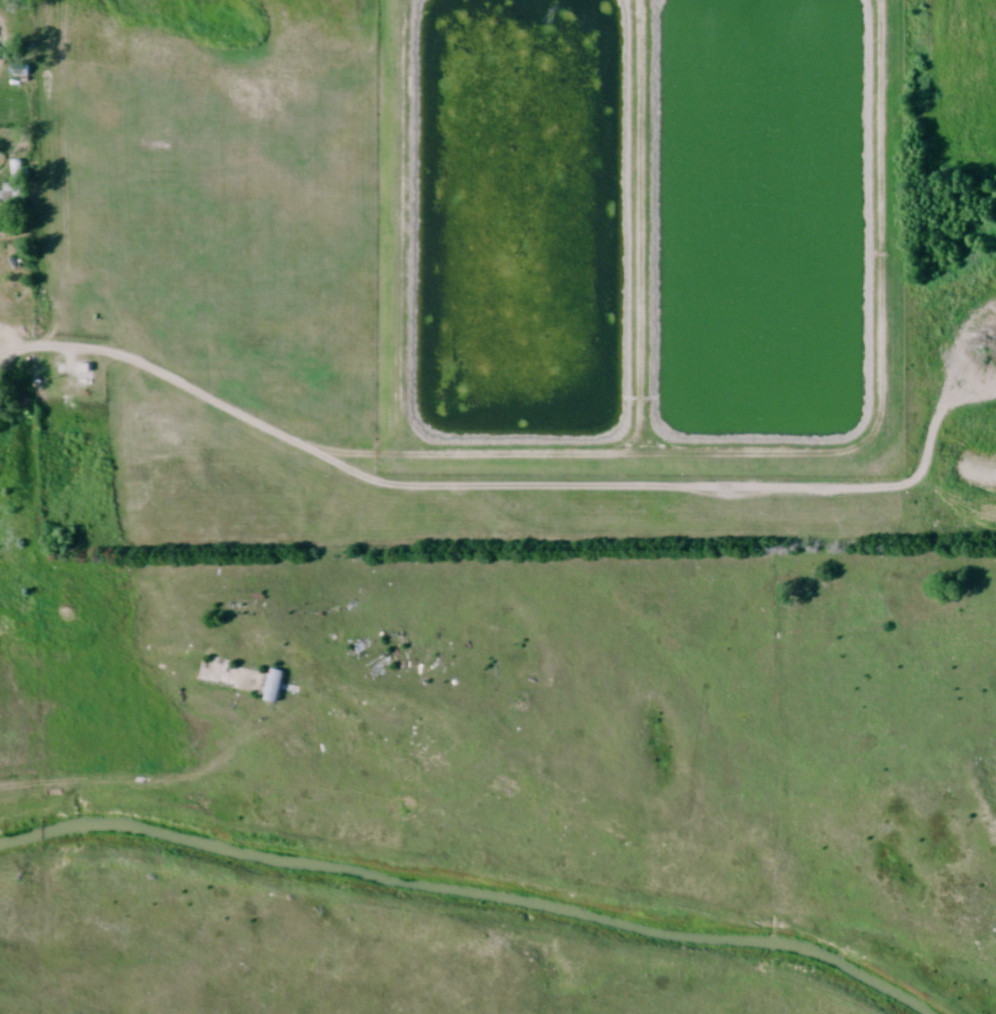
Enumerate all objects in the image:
building: (18, 174)

